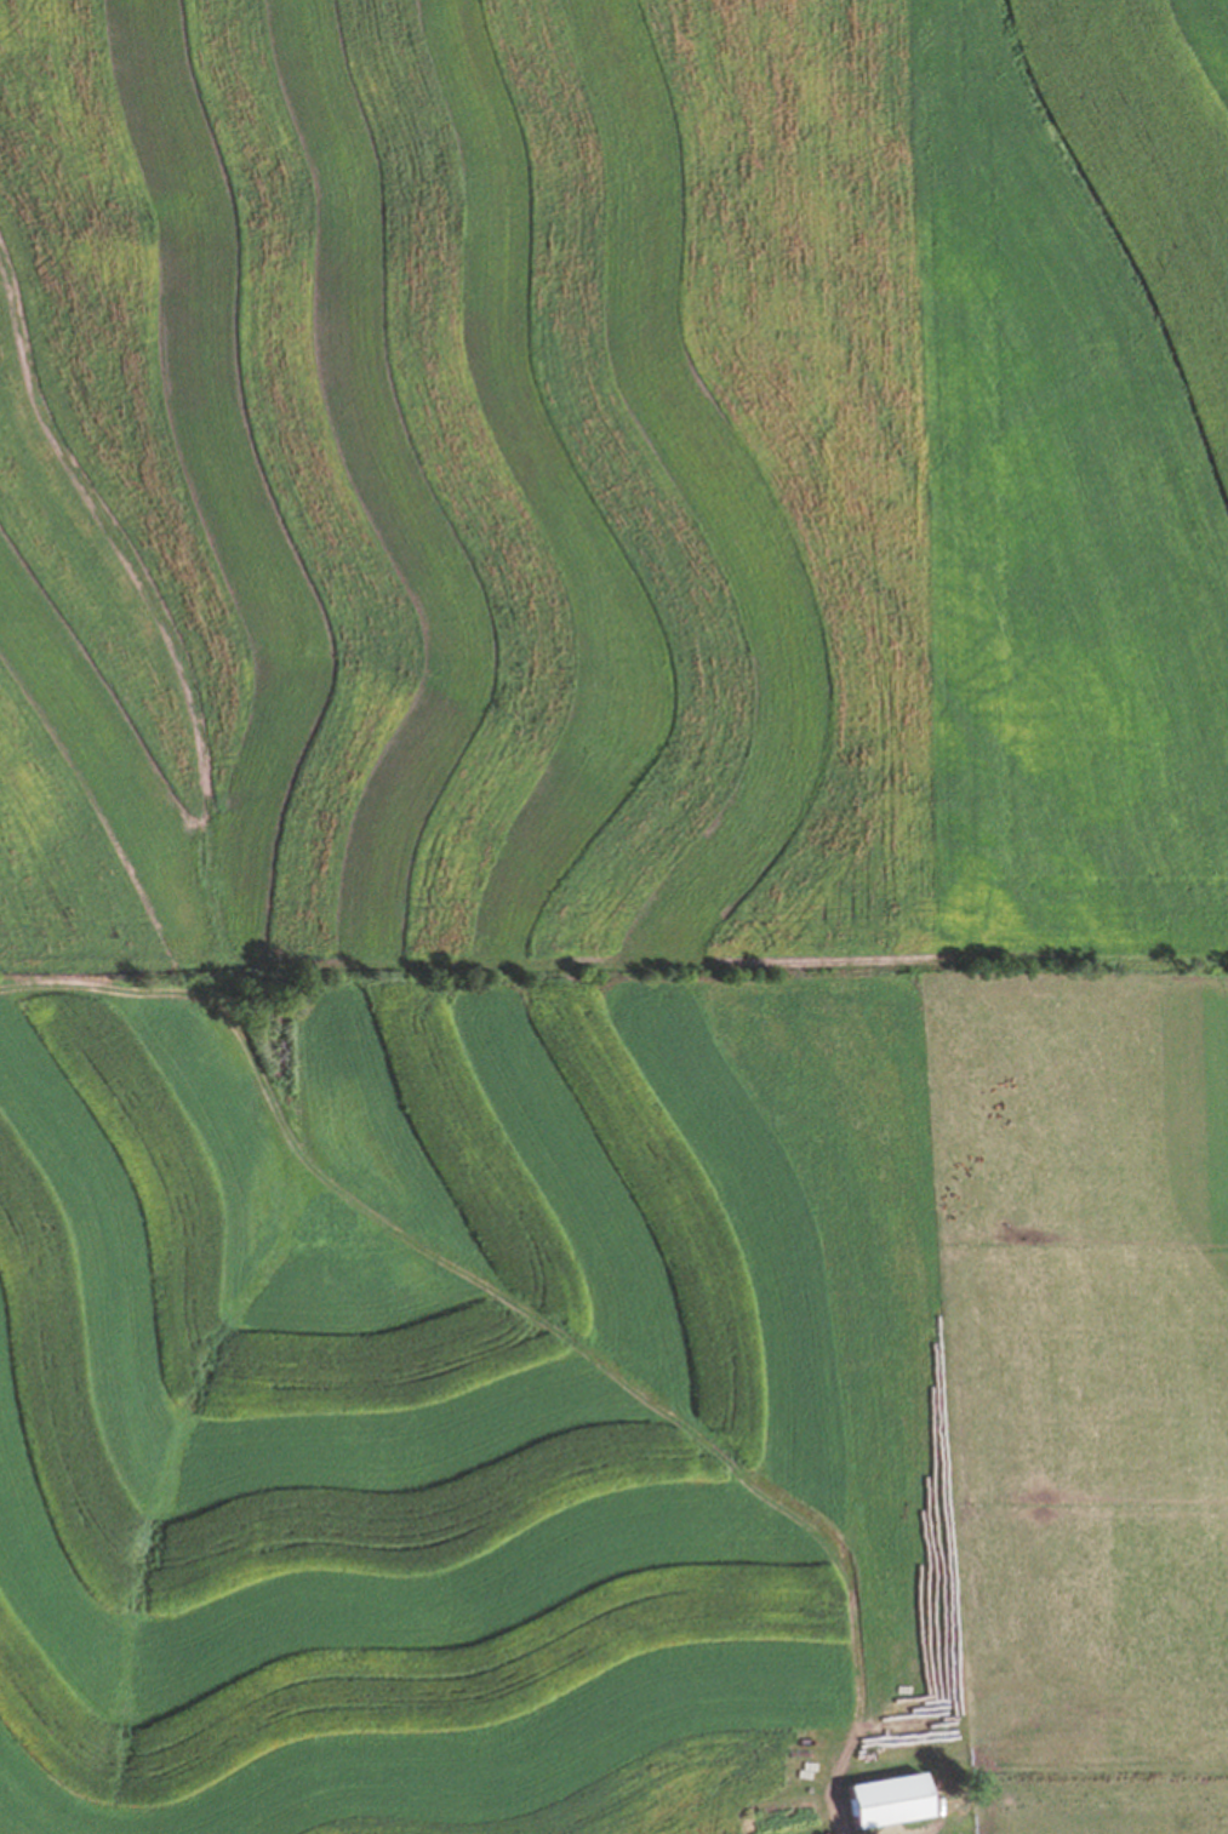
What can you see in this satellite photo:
building: (886, 1799)

